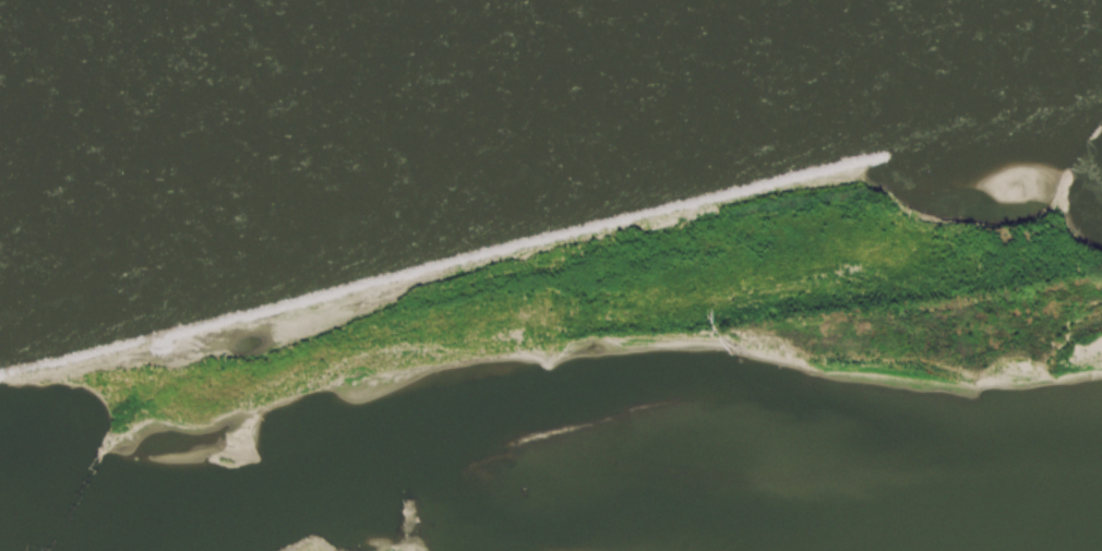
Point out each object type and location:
river: (318, 64)

